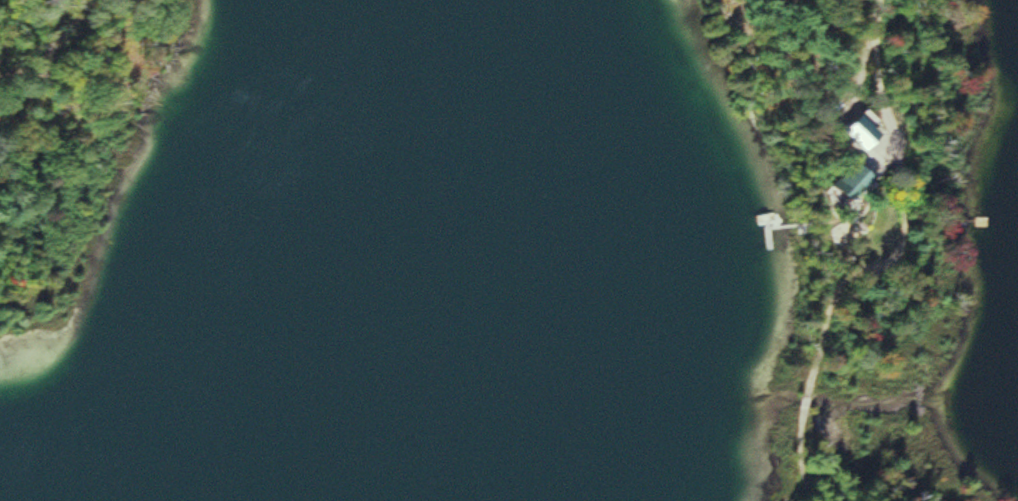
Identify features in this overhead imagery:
road: (875, 46)
building: (864, 179)
road: (832, 305)
road: (807, 402)
road: (801, 454)

